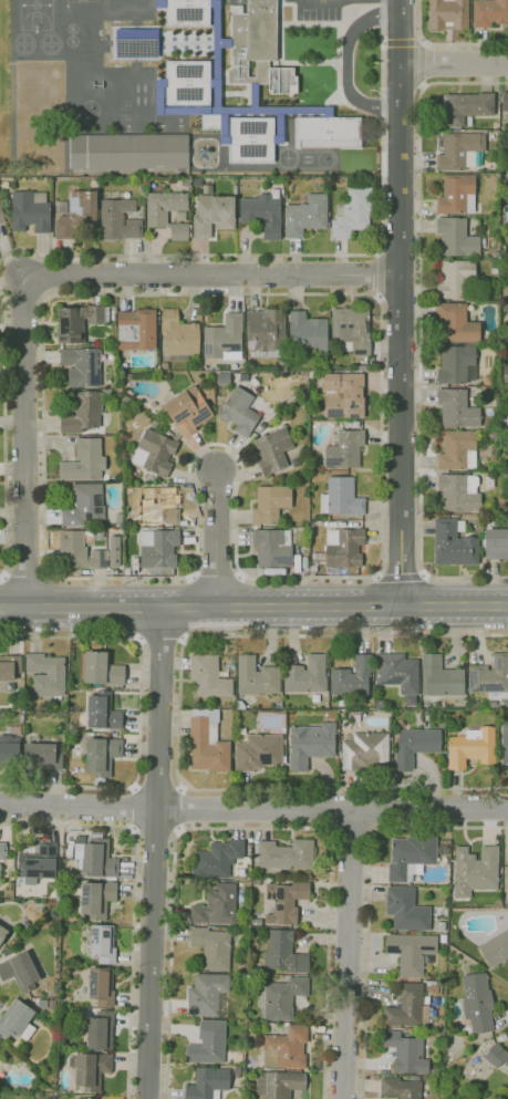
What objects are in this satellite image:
road: (159, 1)
building: (160, 3)
parking lot: (322, 9)
building: (187, 12)
building: (489, 12)
building: (448, 14)
road: (313, 22)
road: (281, 32)
building: (137, 41)
building: (216, 42)
road: (444, 44)
building: (257, 46)
road: (216, 55)
road: (340, 60)
road: (348, 61)
road: (310, 62)
road: (454, 63)
road: (424, 64)
building: (187, 82)
road: (159, 97)
building: (504, 101)
building: (462, 108)
road: (248, 111)
building: (210, 122)
road: (224, 125)
road: (280, 125)
building: (328, 132)
building: (251, 139)
building: (458, 149)
building: (128, 152)
building: (196, 182)
building: (93, 184)
building: (4, 185)
building: (235, 190)
building: (457, 194)
building: (30, 211)
building: (167, 212)
building: (262, 212)
building: (352, 212)
building: (77, 215)
building: (212, 216)
building: (307, 216)
building: (1, 217)
building: (179, 217)
building: (118, 220)
building: (456, 238)
road: (312, 255)
building: (495, 255)
building: (494, 271)
road: (380, 273)
road: (211, 276)
building: (454, 280)
road: (58, 296)
road: (400, 303)
building: (79, 322)
building: (457, 323)
road: (418, 329)
building: (136, 330)
building: (351, 331)
building: (265, 332)
building: (307, 333)
building: (1, 335)
building: (178, 336)
building: (224, 339)
building: (455, 364)
building: (165, 365)
building: (82, 366)
building: (505, 375)
building: (222, 379)
building: (220, 392)
building: (209, 393)
building: (343, 395)
building: (457, 408)
building: (188, 411)
building: (239, 412)
building: (82, 413)
building: (153, 423)
building: (487, 427)
road: (4, 434)
building: (495, 434)
road: (24, 443)
building: (344, 449)
building: (273, 450)
building: (155, 452)
building: (458, 452)
building: (84, 462)
building: (296, 462)
building: (459, 493)
building: (341, 497)
building: (270, 504)
building: (84, 506)
building: (157, 507)
building: (489, 509)
building: (118, 518)
building: (311, 529)
road: (216, 539)
building: (454, 543)
building: (496, 543)
building: (158, 548)
building: (271, 549)
building: (341, 549)
building: (113, 550)
building: (79, 551)
building: (304, 562)
road: (402, 572)
building: (311, 573)
road: (25, 576)
road: (253, 606)
road: (160, 640)
building: (95, 644)
building: (9, 667)
building: (100, 670)
building: (397, 672)
building: (46, 675)
building: (256, 676)
building: (305, 676)
building: (209, 677)
building: (439, 677)
building: (490, 677)
building: (352, 678)
building: (91, 690)
building: (239, 705)
building: (278, 706)
road: (141, 711)
building: (102, 712)
building: (504, 714)
road: (178, 715)
building: (91, 734)
building: (105, 735)
building: (208, 742)
building: (505, 743)
building: (310, 745)
building: (415, 746)
building: (470, 747)
building: (9, 749)
building: (364, 750)
building: (258, 753)
building: (41, 757)
building: (102, 757)
road: (158, 786)
road: (180, 807)
road: (134, 808)
road: (79, 809)
road: (333, 809)
road: (156, 829)
road: (251, 829)
road: (351, 832)
building: (70, 848)
building: (6, 851)
road: (157, 853)
building: (284, 854)
building: (96, 858)
building: (409, 858)
building: (217, 859)
building: (39, 862)
building: (475, 871)
building: (507, 878)
road: (135, 898)
building: (97, 899)
road: (369, 899)
building: (284, 902)
building: (495, 904)
building: (216, 906)
building: (406, 910)
building: (256, 922)
building: (440, 926)
building: (2, 934)
building: (443, 939)
building: (103, 944)
building: (212, 947)
building: (496, 948)
building: (411, 952)
building: (283, 953)
road: (348, 953)
building: (19, 972)
building: (102, 986)
building: (206, 994)
building: (279, 998)
building: (477, 1002)
building: (407, 1007)
building: (17, 1022)
building: (99, 1030)
building: (447, 1038)
building: (208, 1043)
building: (286, 1048)
building: (406, 1053)
building: (497, 1056)
building: (90, 1069)
building: (414, 1078)
building: (208, 1084)
building: (279, 1084)
building: (400, 1088)
building: (85, 1098)

